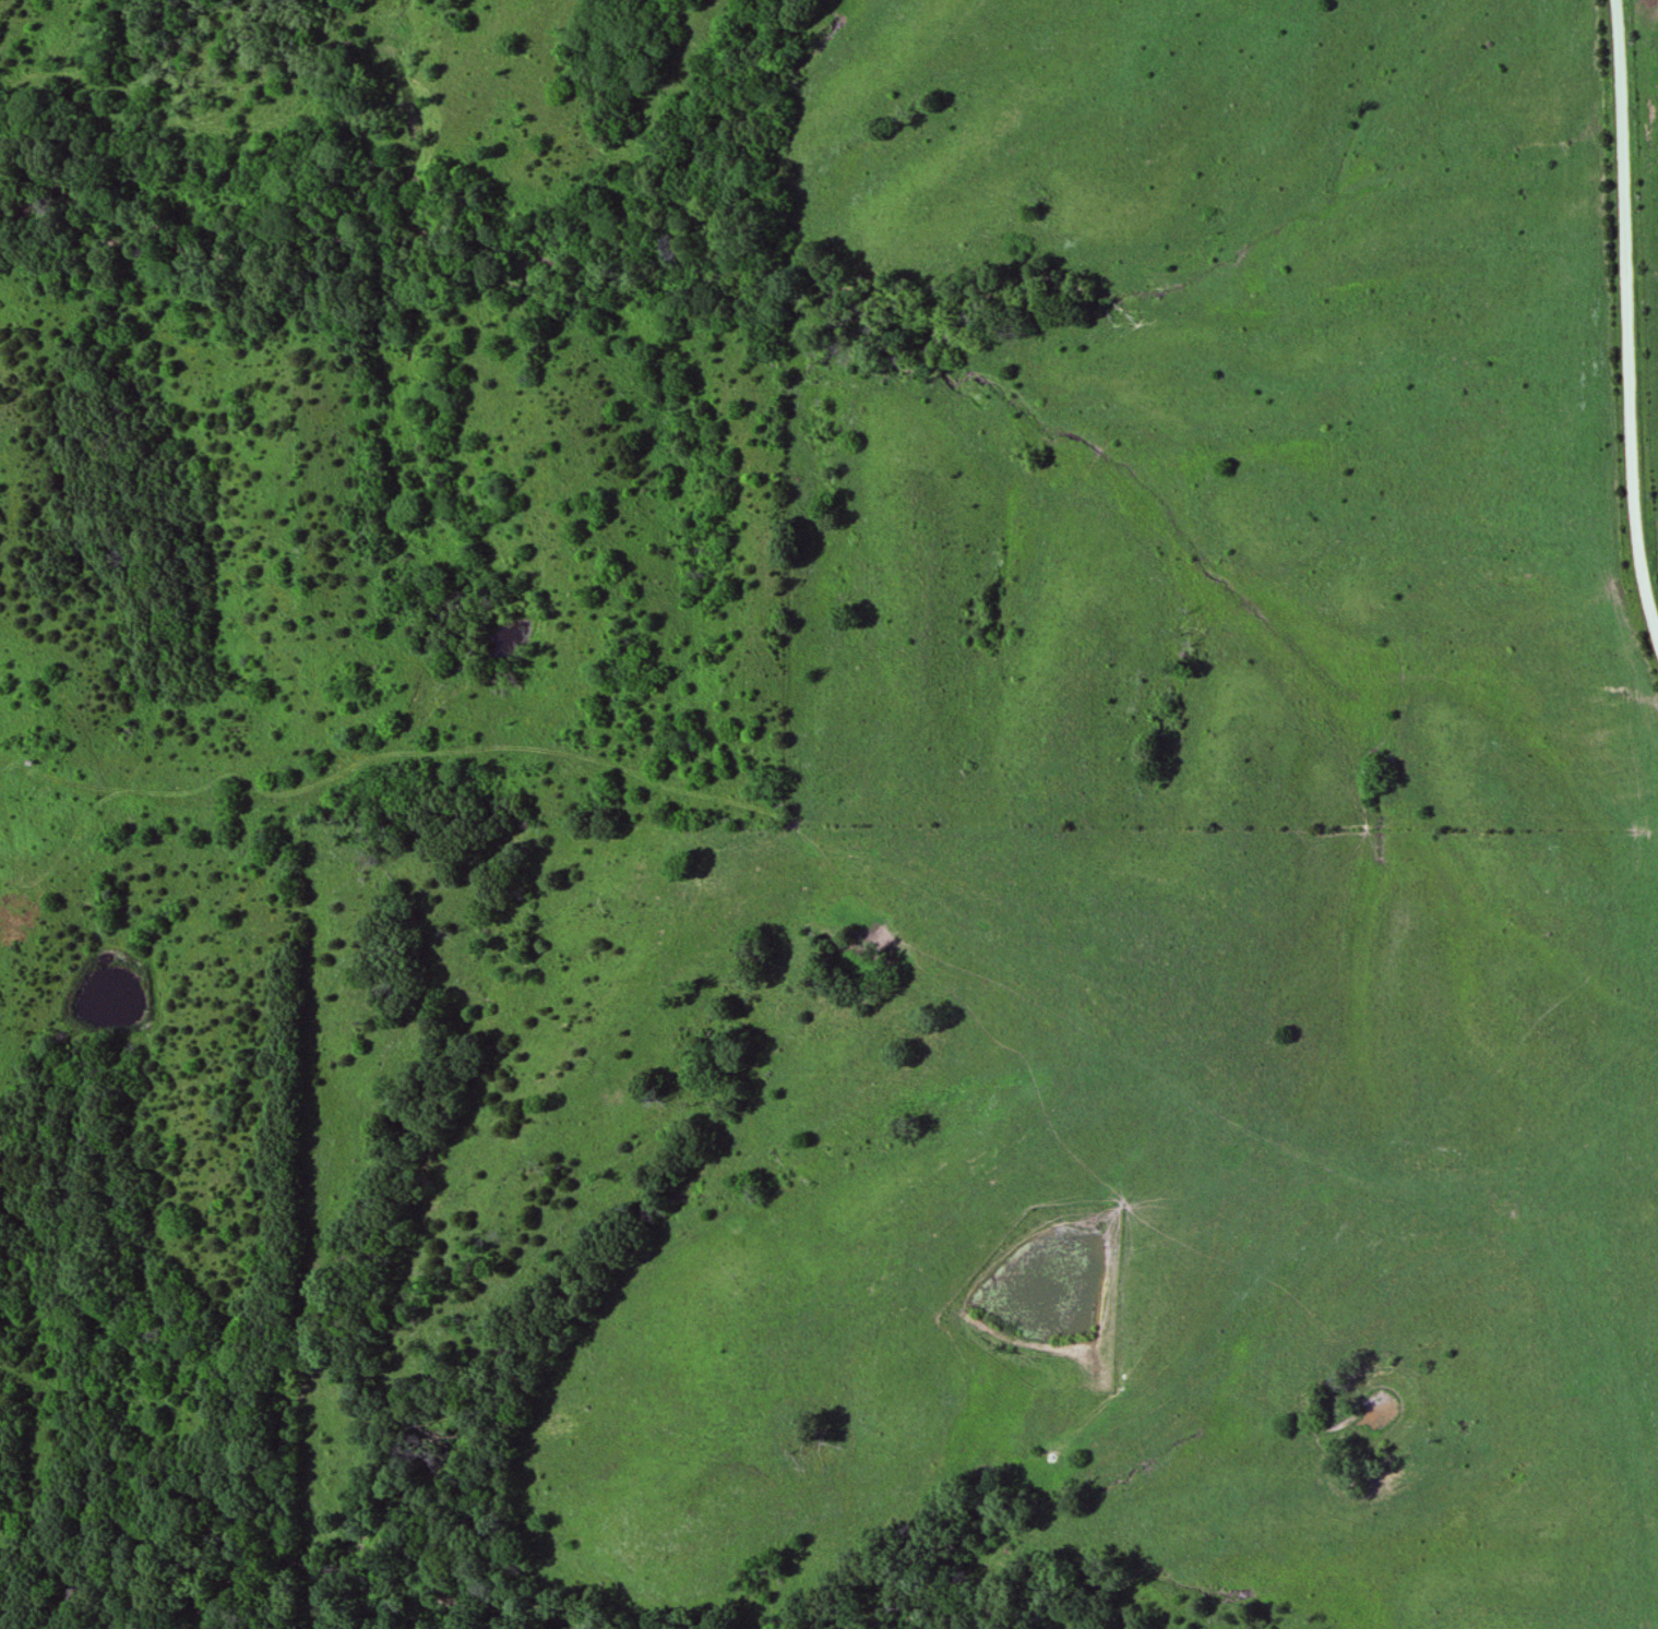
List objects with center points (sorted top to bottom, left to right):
road: (1613, 337)

